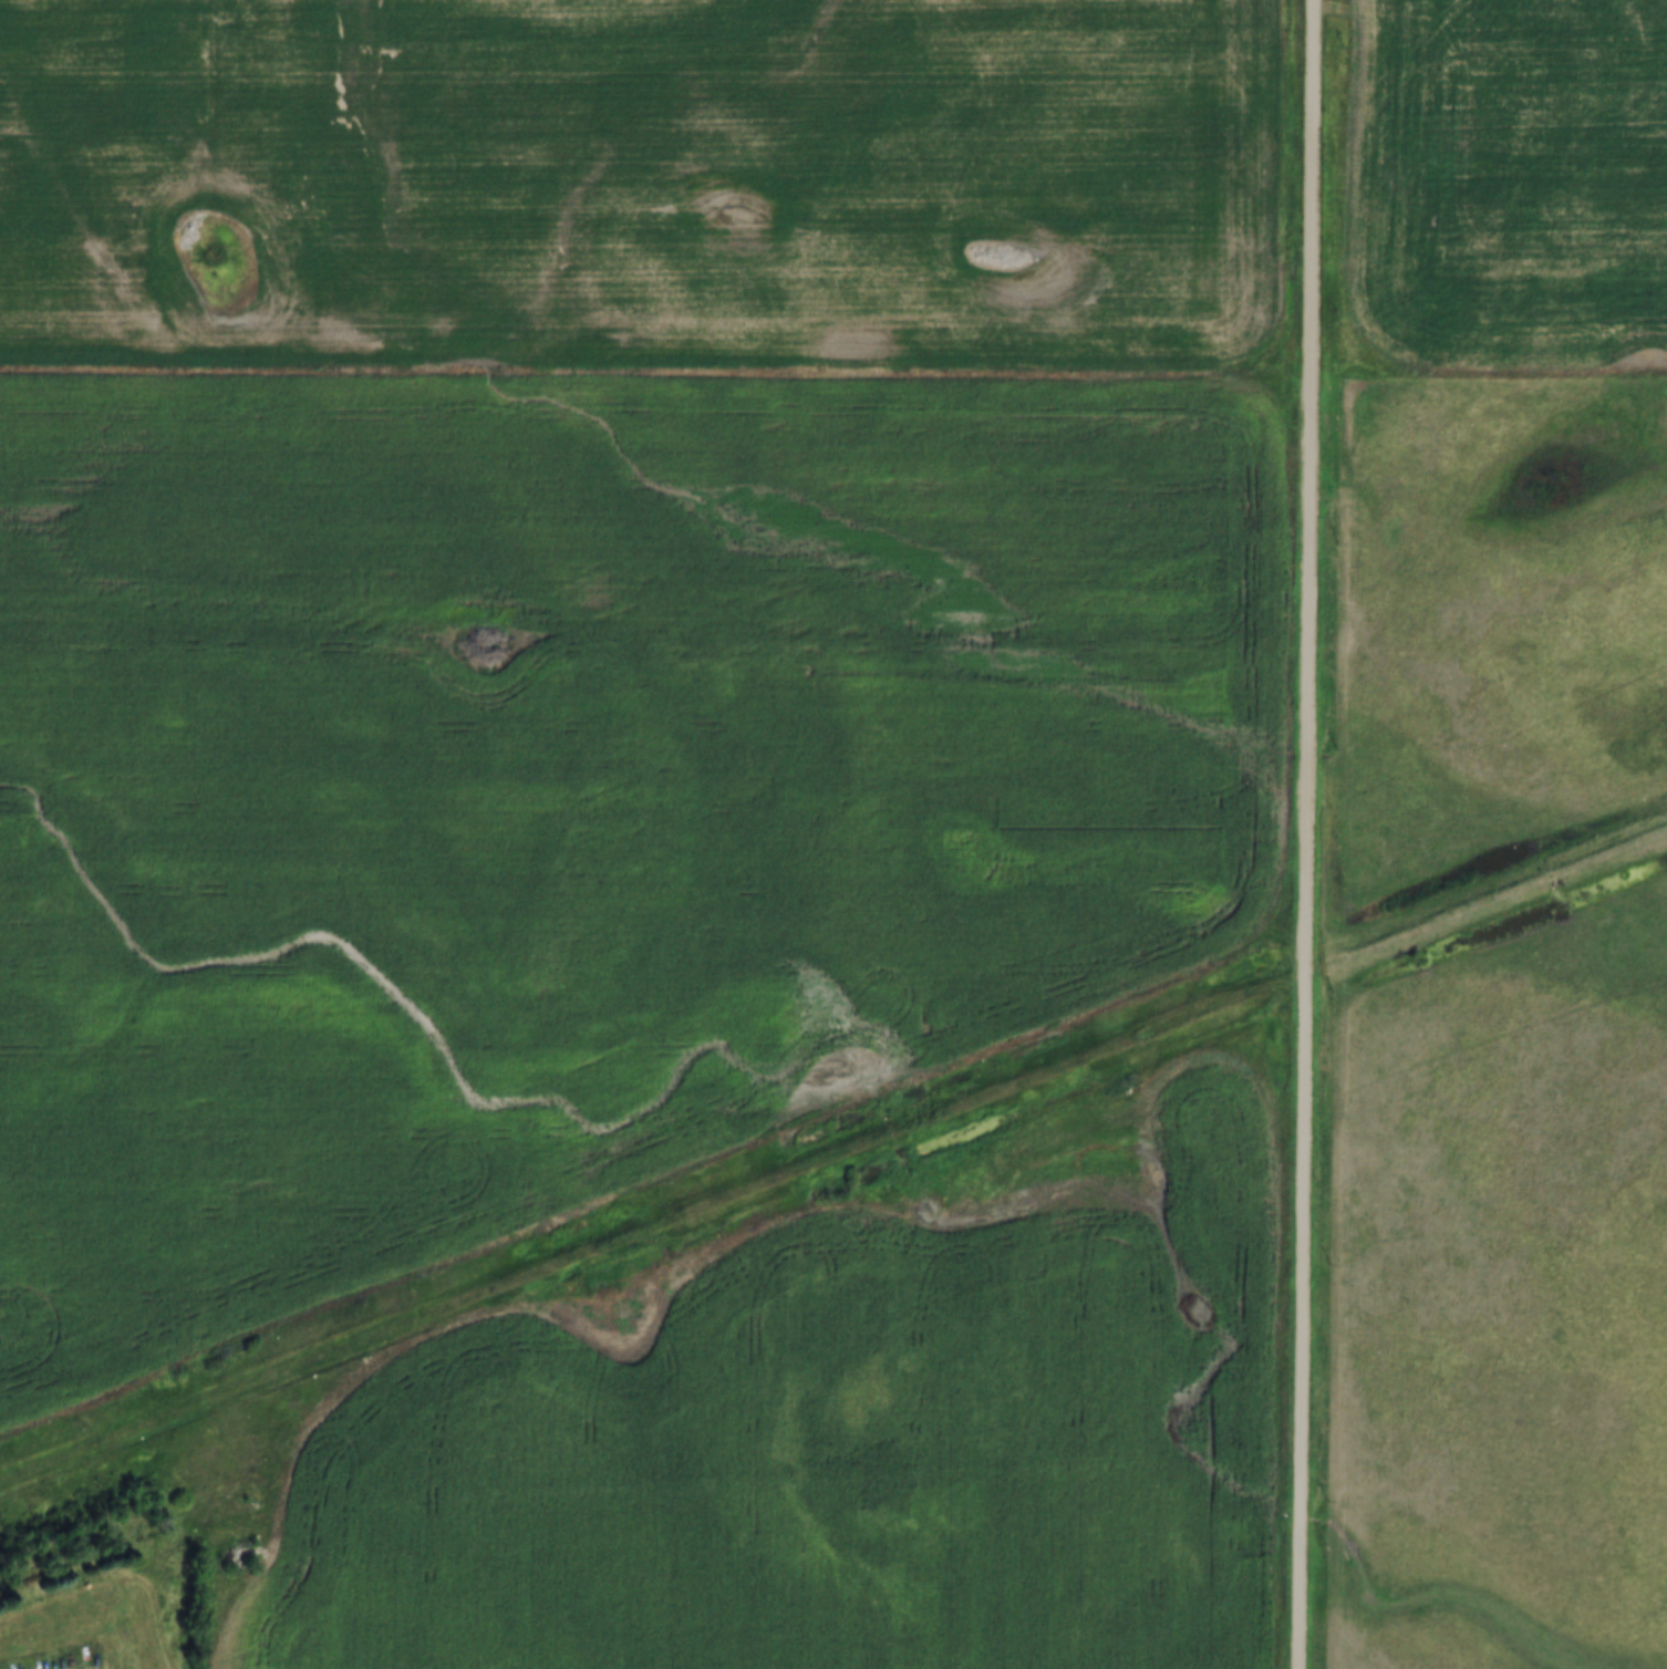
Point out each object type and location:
road: (1308, 833)

